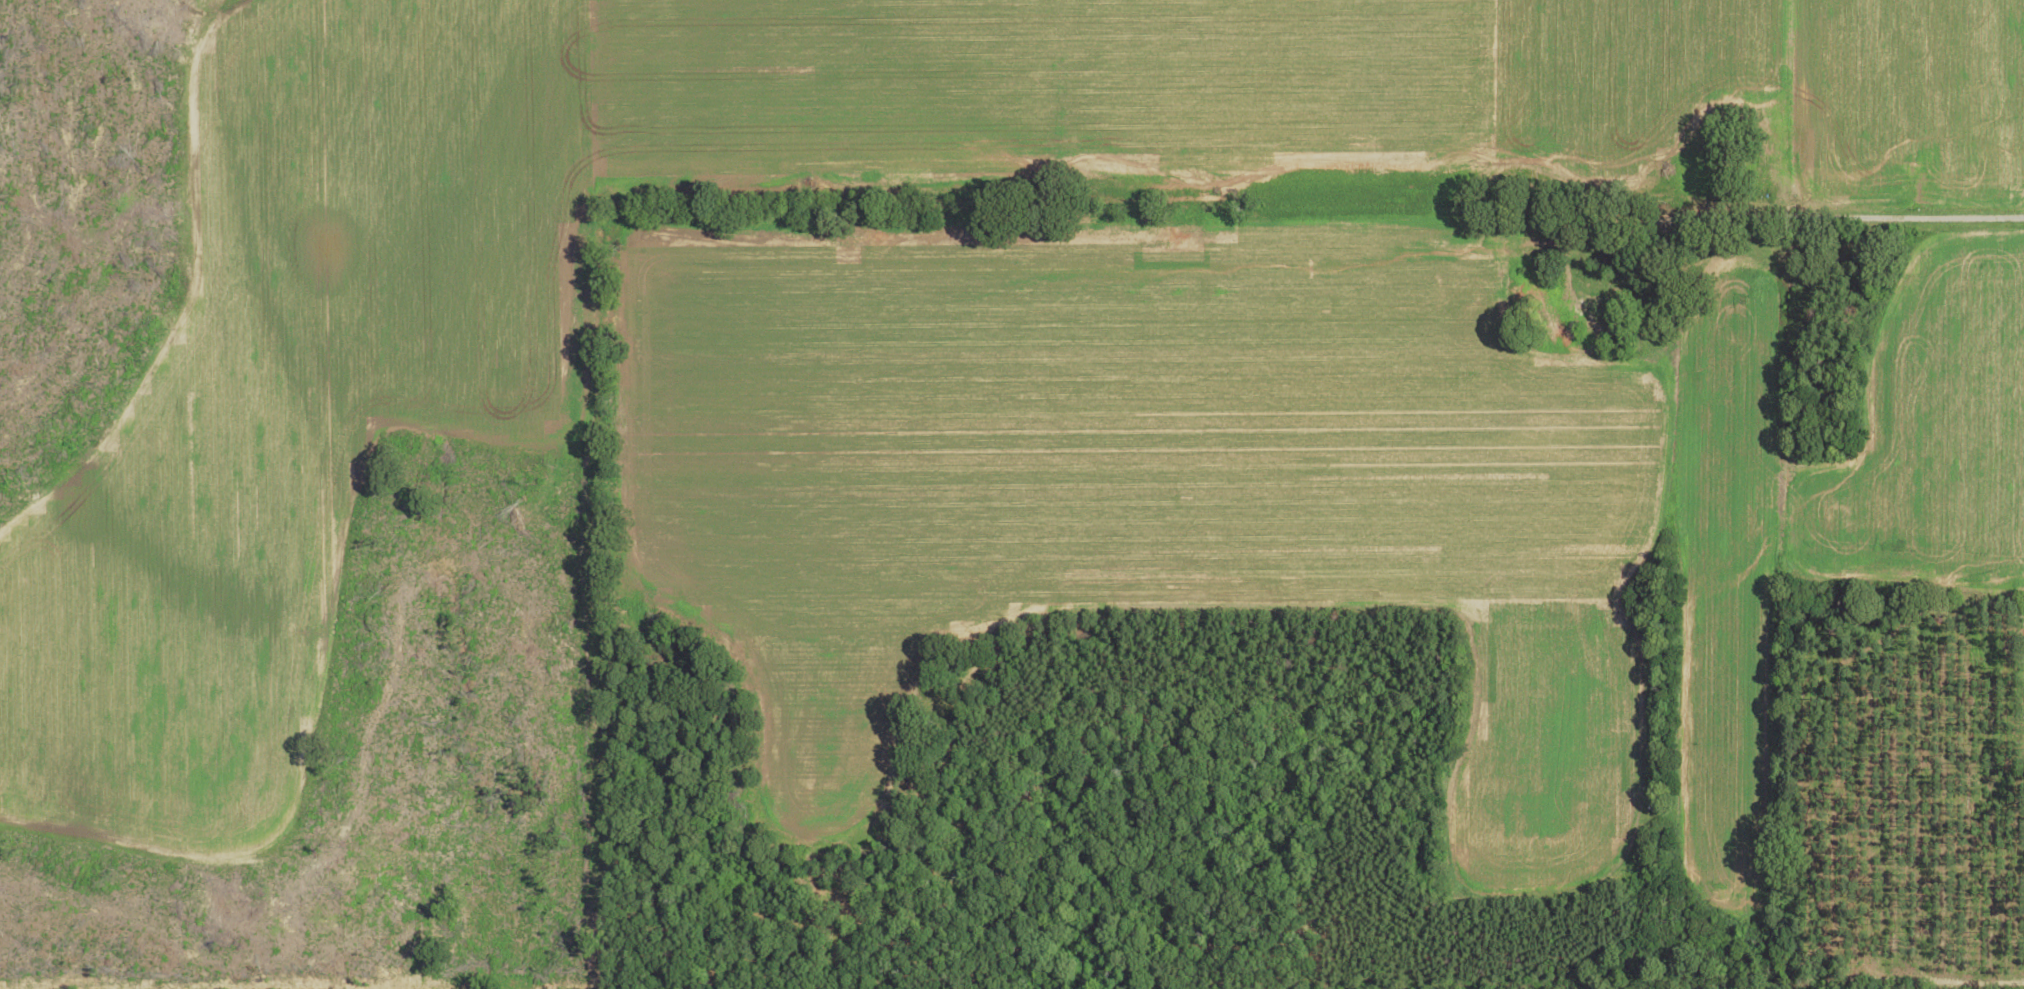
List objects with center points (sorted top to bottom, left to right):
road: (1844, 217)

